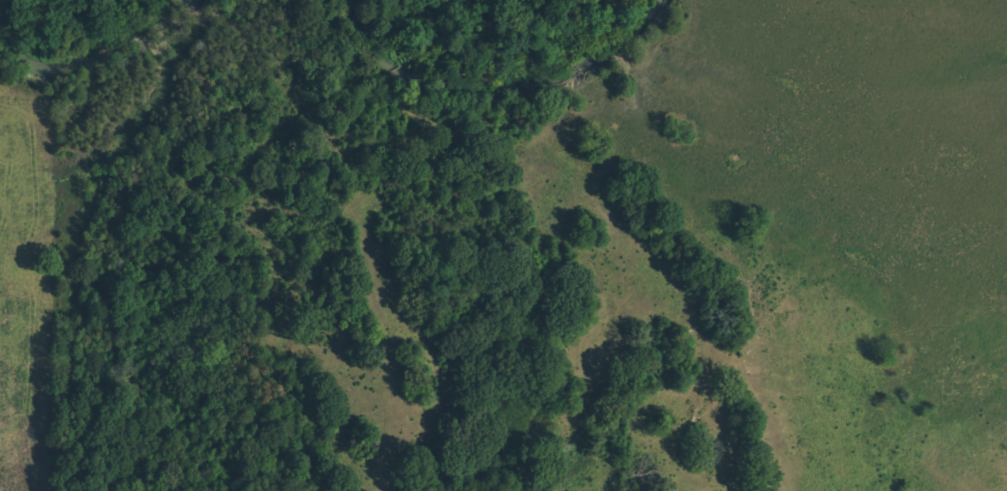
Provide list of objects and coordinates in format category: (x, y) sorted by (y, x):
river: (1, 9)
river: (95, 49)
river: (503, 84)

